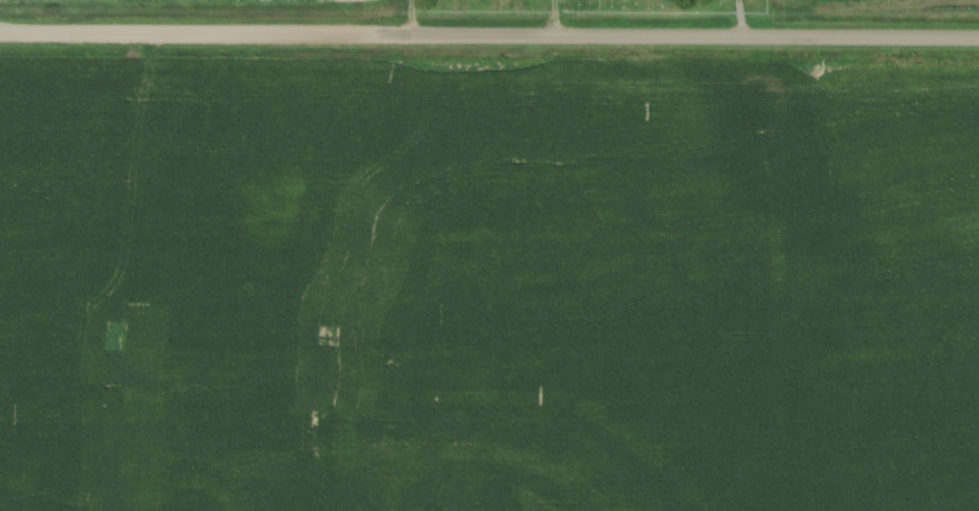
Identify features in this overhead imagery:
park: (589, 9)
road: (554, 15)
road: (742, 15)
road: (412, 16)
road: (676, 30)
road: (187, 33)

